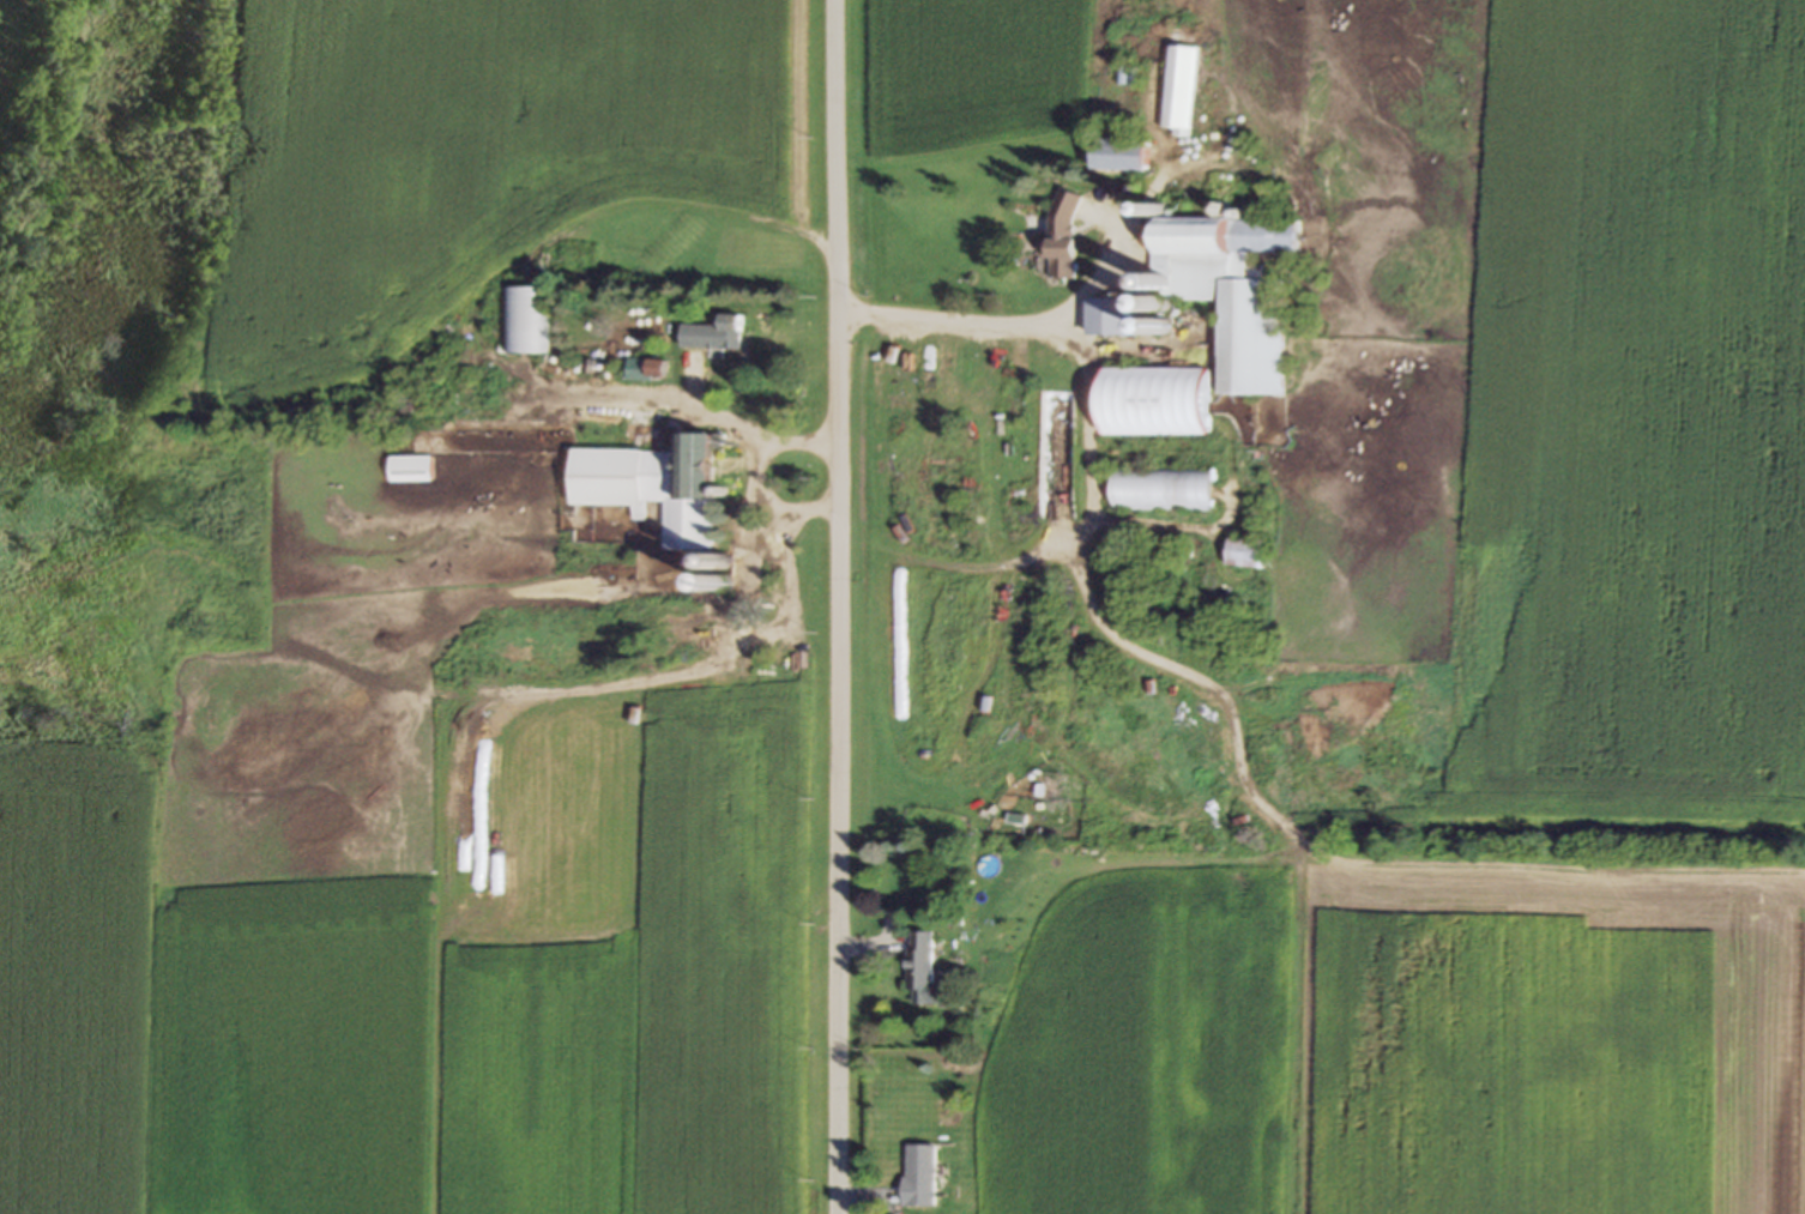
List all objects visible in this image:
building: (1128, 78)
building: (1178, 89)
building: (1118, 156)
building: (1062, 236)
building: (1227, 292)
building: (1107, 318)
road: (998, 320)
building: (526, 321)
building: (712, 336)
building: (645, 372)
building: (1152, 403)
building: (410, 470)
building: (651, 488)
building: (1160, 490)
building: (1242, 554)
road: (979, 562)
road: (840, 606)
building: (778, 834)
building: (920, 971)
building: (918, 1177)

